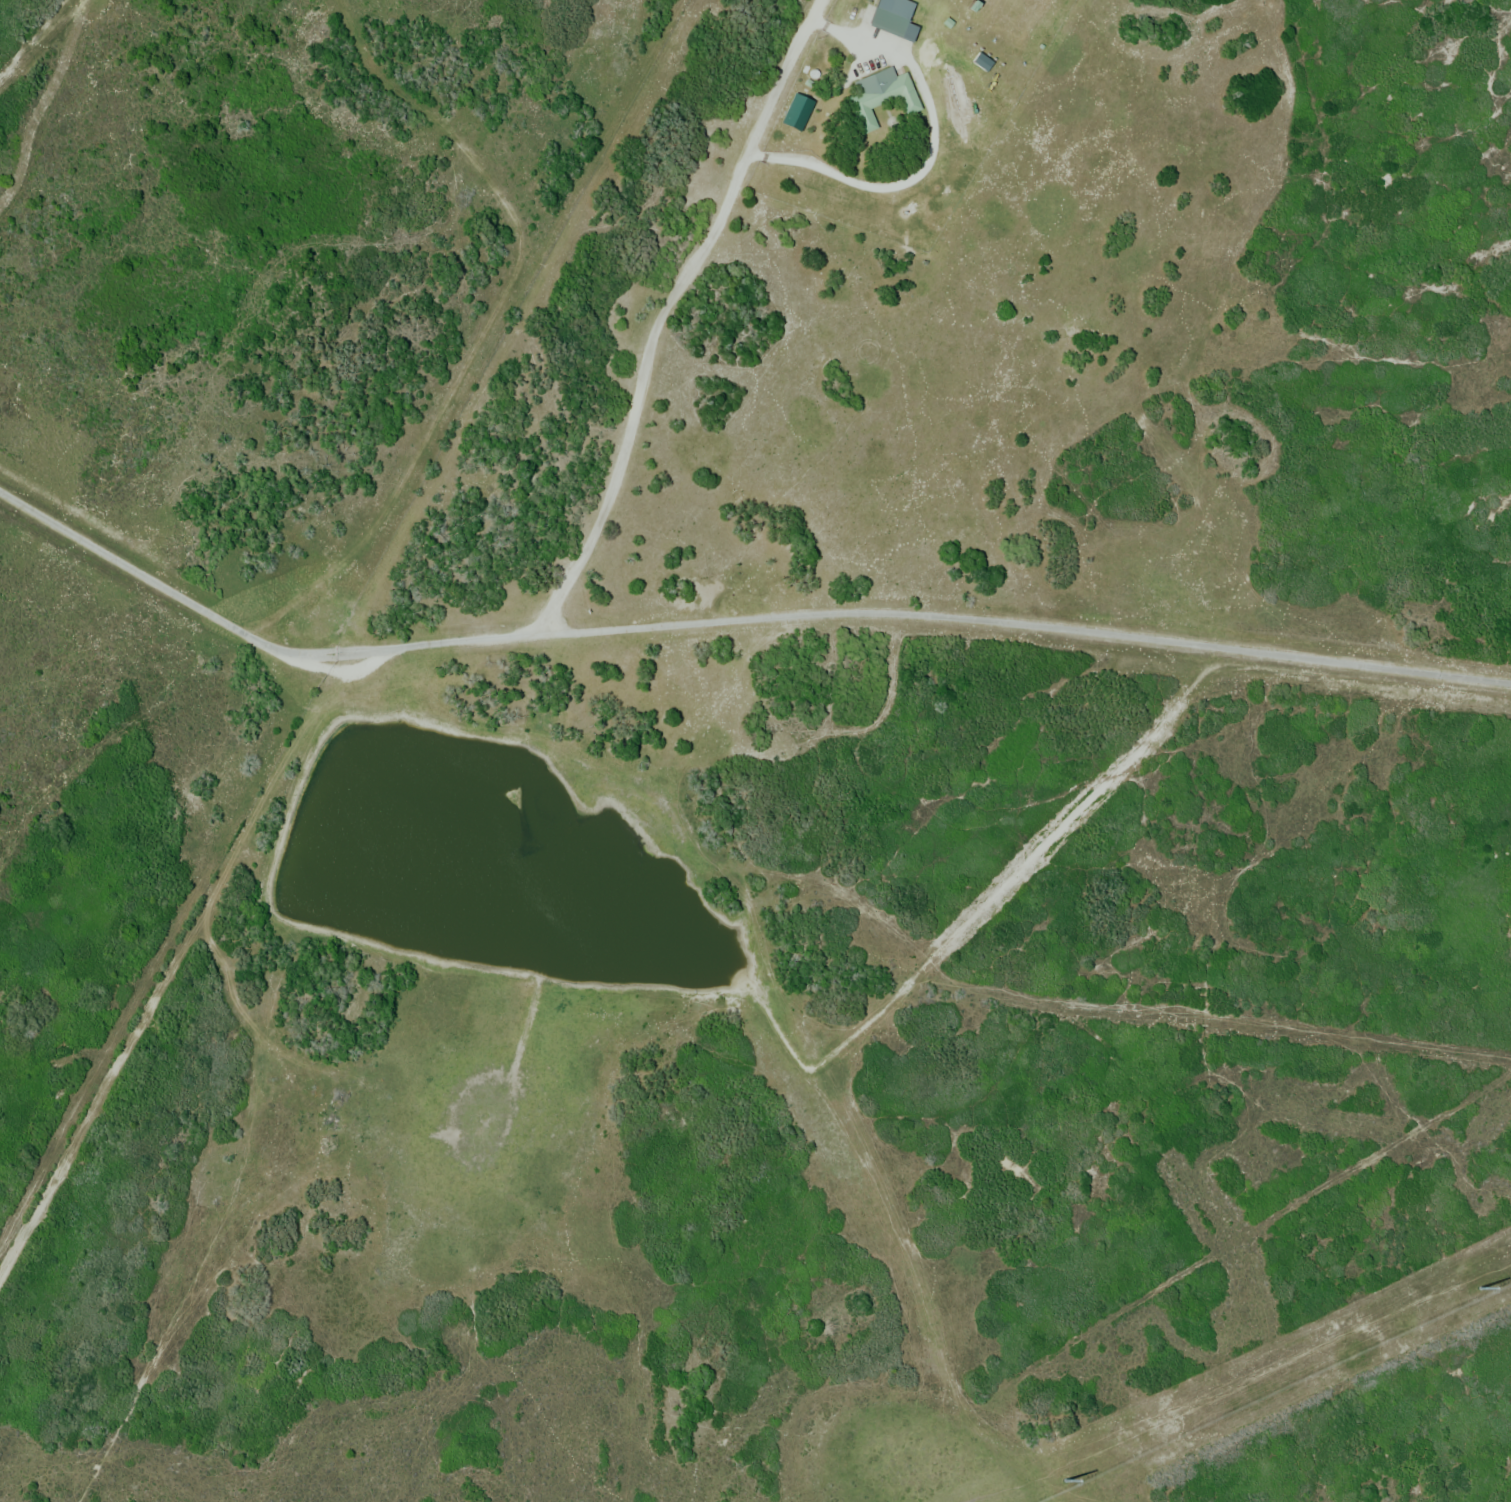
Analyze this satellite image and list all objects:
building: (892, 17)
building: (882, 97)
road: (591, 579)
road: (1031, 608)
power tower: (1480, 1288)
power tower: (1064, 1479)

